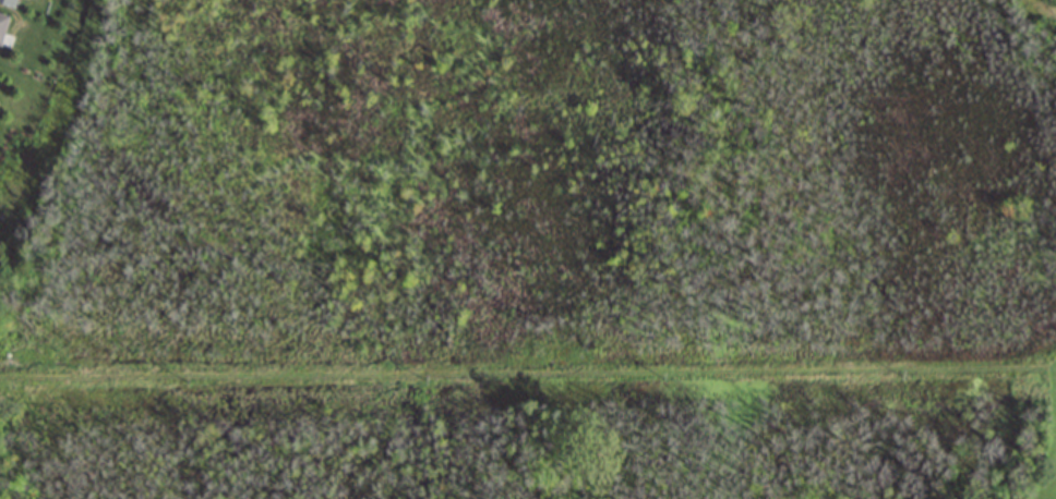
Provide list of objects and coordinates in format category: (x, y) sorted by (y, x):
building: (7, 3)
building: (1, 21)
park: (199, 197)

